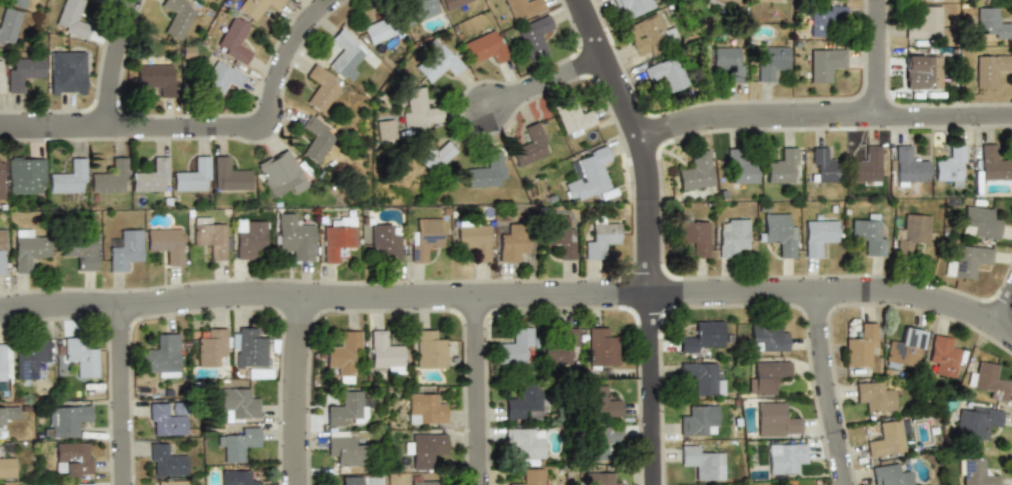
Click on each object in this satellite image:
building: (197, 0)
building: (766, 0)
building: (16, 2)
building: (729, 2)
building: (451, 3)
building: (633, 6)
building: (254, 7)
building: (522, 8)
building: (416, 9)
building: (176, 17)
building: (70, 18)
building: (823, 20)
building: (921, 23)
building: (988, 23)
building: (8, 25)
building: (378, 29)
building: (534, 36)
building: (650, 36)
building: (232, 39)
building: (484, 47)
building: (343, 52)
road: (871, 58)
building: (435, 60)
building: (728, 62)
building: (770, 62)
building: (823, 63)
road: (119, 66)
building: (923, 70)
building: (988, 70)
building: (23, 72)
building: (66, 73)
building: (667, 73)
building: (2, 76)
building: (156, 78)
building: (219, 78)
road: (541, 81)
building: (319, 88)
building: (418, 109)
building: (570, 116)
road: (881, 116)
road: (693, 121)
building: (381, 131)
road: (217, 135)
building: (313, 138)
building: (527, 148)
building: (430, 154)
building: (864, 164)
building: (781, 165)
building: (823, 165)
building: (949, 165)
building: (992, 165)
building: (907, 167)
building: (738, 169)
building: (484, 171)
building: (694, 171)
building: (279, 173)
building: (228, 174)
building: (26, 175)
building: (192, 175)
building: (587, 175)
building: (110, 176)
building: (151, 176)
building: (69, 178)
building: (1, 179)
building: (978, 223)
building: (911, 232)
building: (558, 235)
road: (648, 235)
building: (692, 235)
building: (777, 235)
building: (731, 236)
building: (817, 236)
building: (209, 237)
building: (294, 237)
building: (248, 238)
building: (423, 238)
building: (867, 238)
building: (337, 239)
building: (473, 240)
building: (600, 240)
building: (384, 241)
building: (512, 242)
building: (166, 244)
building: (27, 249)
building: (2, 251)
building: (123, 251)
building: (79, 252)
building: (964, 261)
road: (511, 303)
road: (1001, 307)
building: (700, 335)
building: (766, 337)
building: (515, 346)
building: (247, 347)
building: (559, 347)
building: (903, 347)
building: (211, 348)
building: (600, 348)
building: (859, 348)
building: (429, 350)
building: (384, 352)
building: (342, 353)
building: (32, 356)
building: (80, 356)
building: (160, 356)
building: (942, 356)
building: (4, 362)
building: (766, 375)
building: (702, 378)
building: (988, 380)
road: (829, 387)
road: (299, 395)
road: (481, 395)
building: (874, 396)
road: (128, 400)
building: (521, 400)
building: (601, 401)
building: (237, 403)
building: (346, 408)
building: (424, 408)
building: (9, 412)
building: (66, 420)
building: (165, 420)
building: (699, 420)
building: (775, 420)
building: (0, 422)
building: (976, 422)
building: (885, 439)
building: (601, 441)
building: (524, 443)
building: (239, 444)
building: (343, 445)
building: (424, 449)
building: (785, 457)
building: (73, 459)
building: (165, 461)
building: (700, 463)
building: (7, 466)
building: (975, 472)
building: (889, 475)
building: (528, 477)
building: (236, 478)
building: (598, 478)
building: (350, 481)
building: (170, 482)
building: (421, 482)
building: (70, 484)

